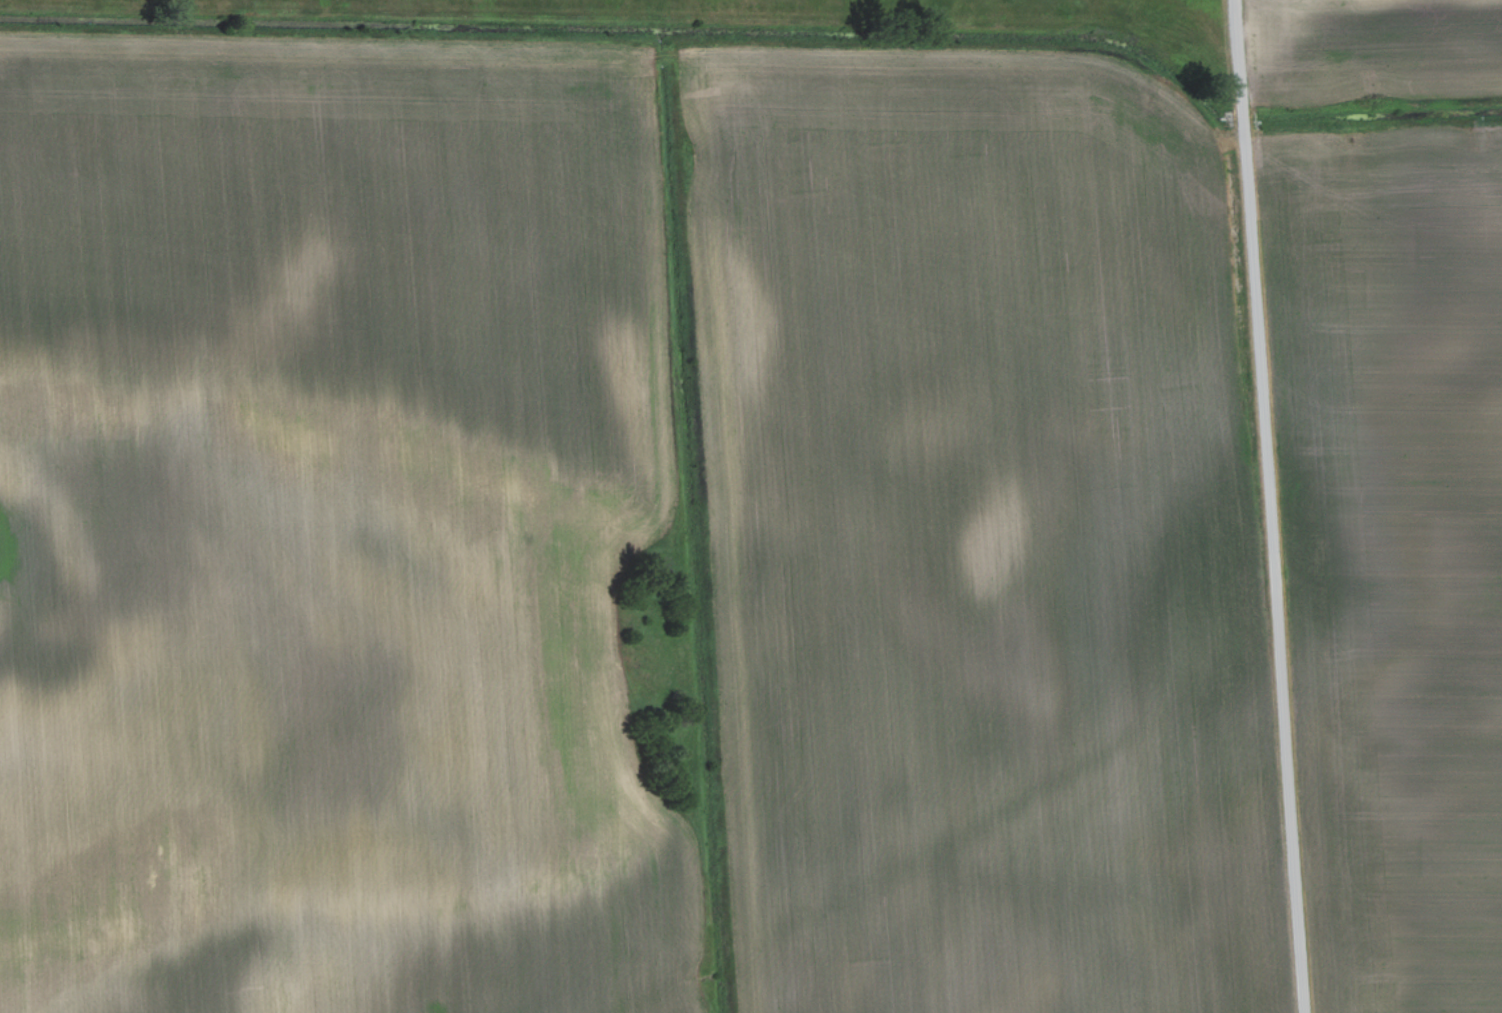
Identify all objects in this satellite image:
road: (1270, 506)

